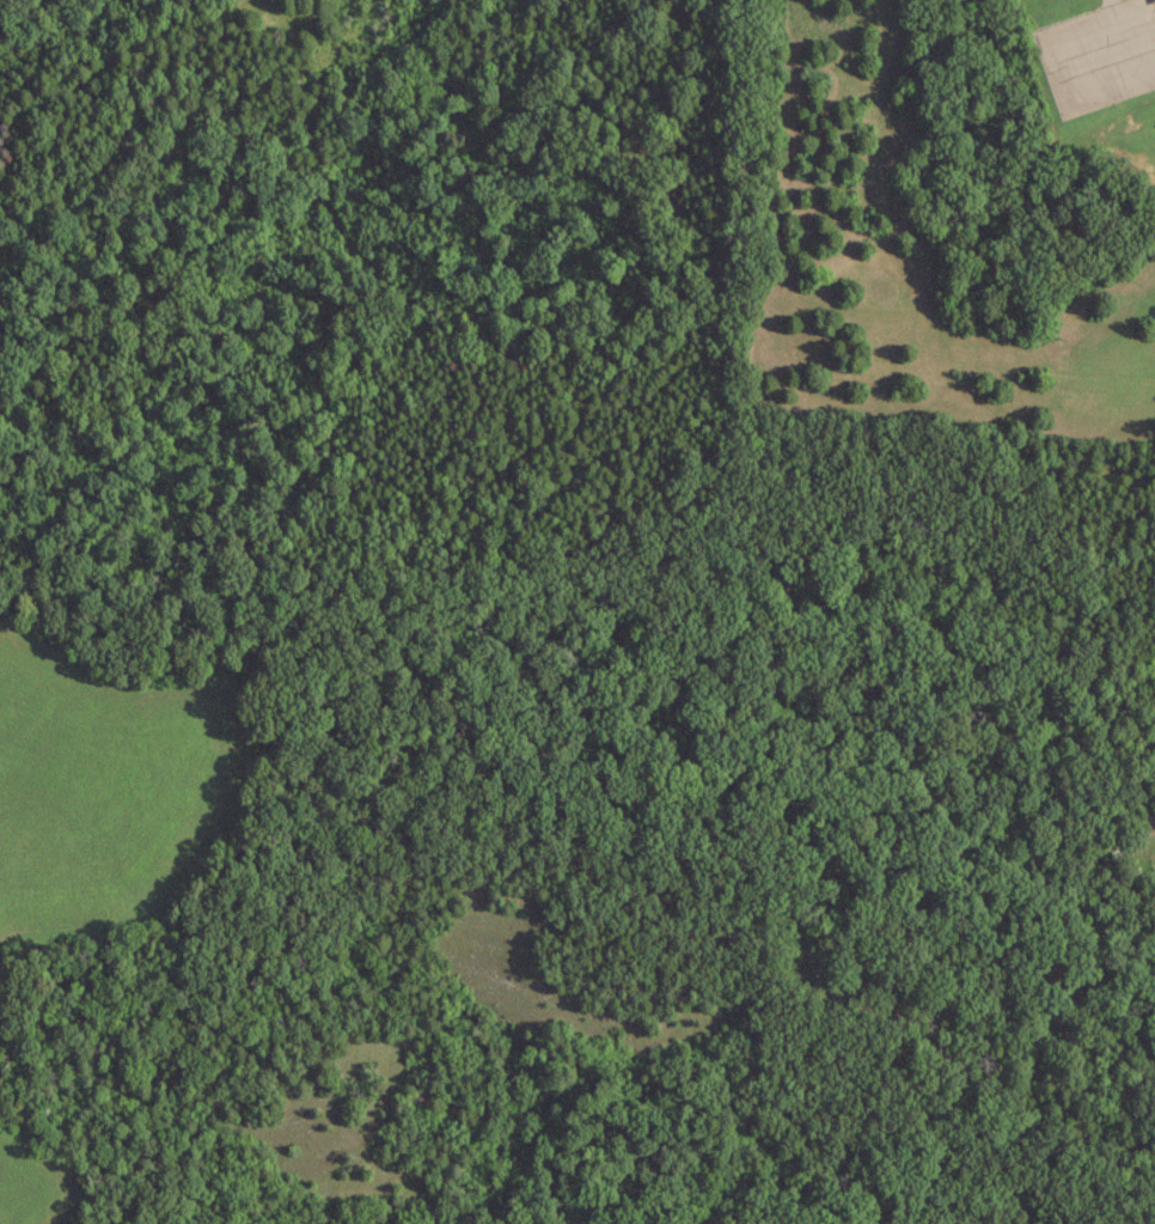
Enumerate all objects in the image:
building: (1154, 0)
road: (1114, 8)
road: (1136, 8)
road: (1056, 83)

